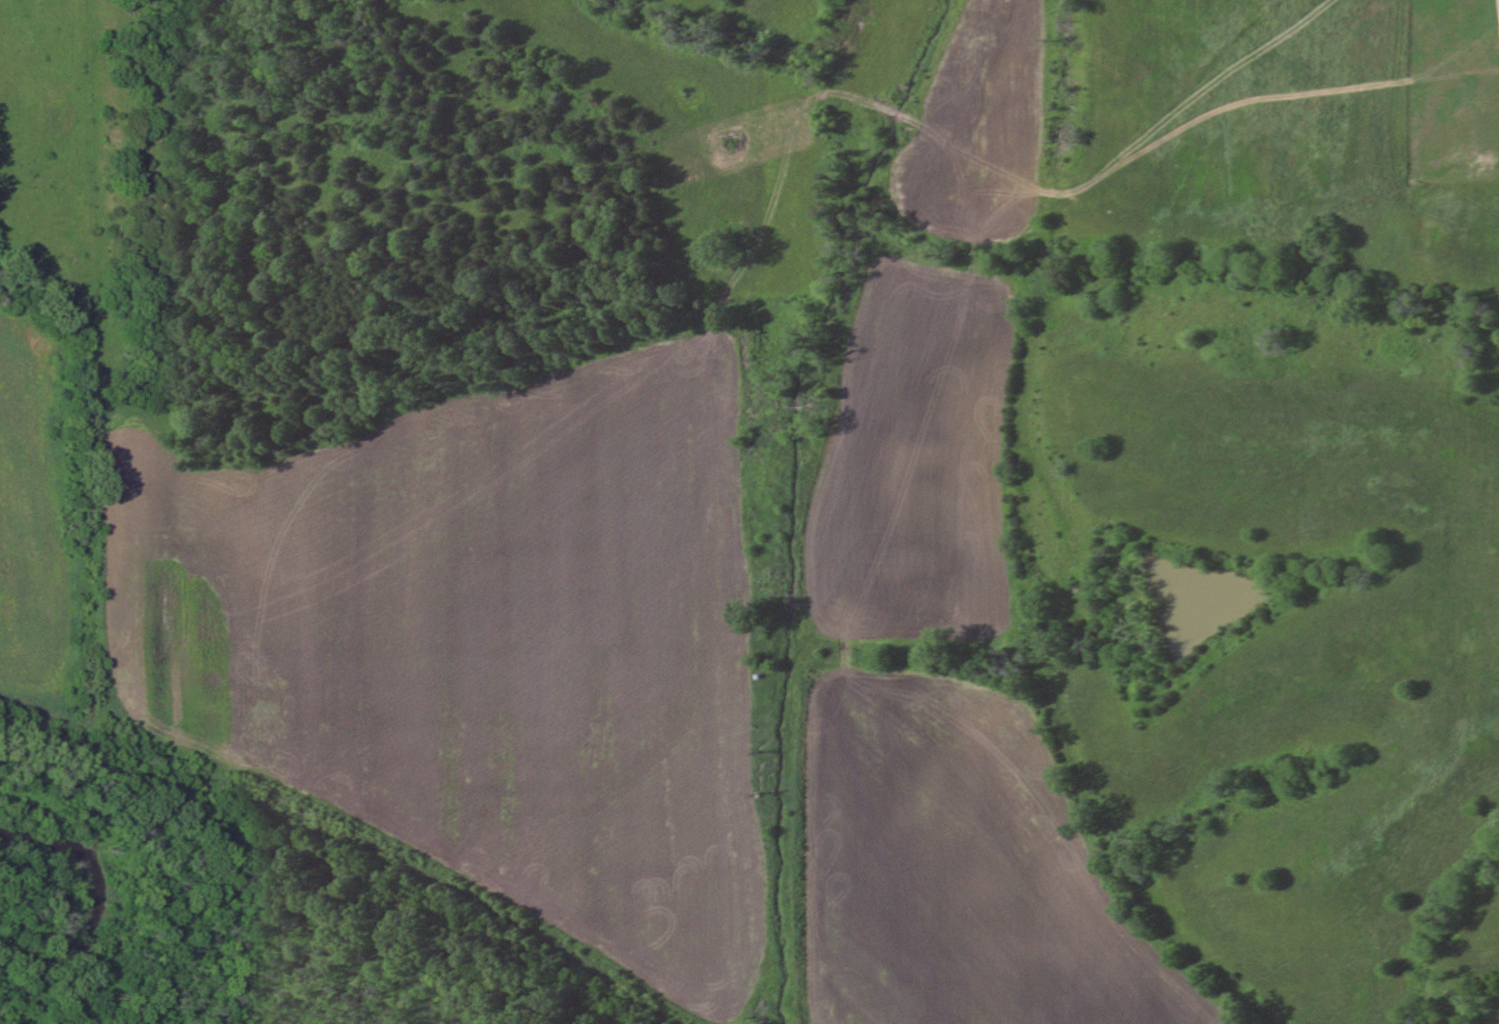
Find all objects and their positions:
road: (1428, 4)

